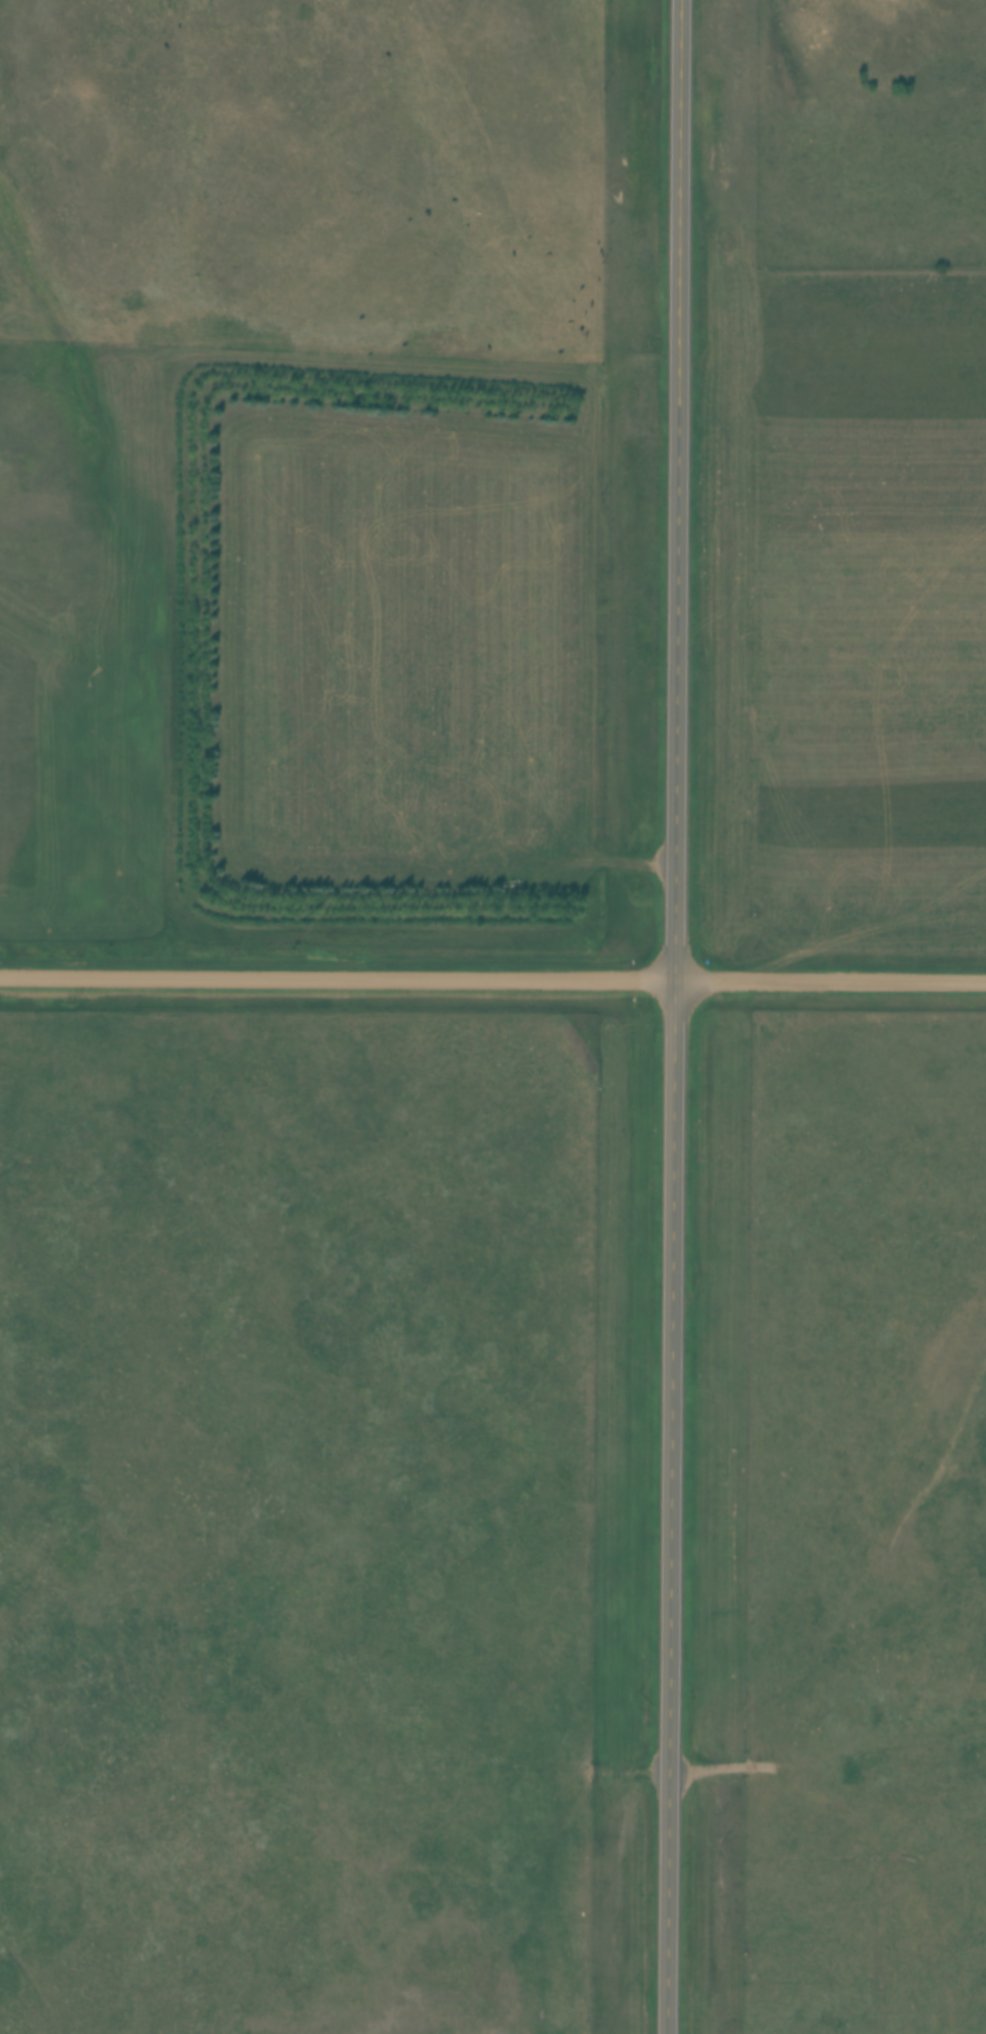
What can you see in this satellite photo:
road: (493, 980)
road: (673, 1016)

